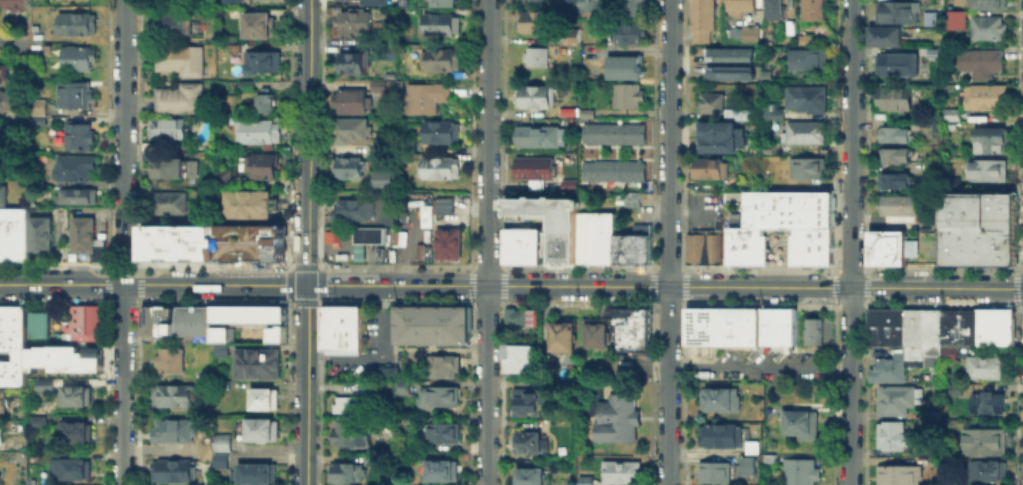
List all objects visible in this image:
building: (571, 0)
building: (169, 1)
building: (234, 1)
building: (373, 1)
building: (444, 2)
building: (532, 2)
building: (949, 3)
building: (11, 5)
building: (742, 5)
building: (993, 5)
building: (593, 7)
building: (633, 8)
building: (774, 10)
building: (814, 11)
building: (899, 12)
building: (933, 18)
building: (704, 20)
building: (957, 20)
road: (124, 21)
building: (173, 23)
building: (355, 23)
building: (536, 23)
building: (78, 25)
building: (259, 26)
building: (442, 26)
building: (791, 28)
building: (989, 29)
building: (633, 34)
building: (733, 34)
building: (752, 34)
building: (886, 39)
building: (808, 40)
road: (10, 41)
building: (391, 53)
building: (734, 54)
building: (537, 58)
building: (80, 60)
building: (182, 61)
building: (442, 61)
building: (811, 62)
building: (263, 63)
building: (355, 63)
building: (981, 63)
building: (898, 67)
building: (625, 68)
building: (2, 72)
building: (733, 73)
building: (245, 86)
building: (379, 86)
building: (72, 93)
building: (535, 97)
building: (629, 97)
building: (986, 97)
building: (6, 98)
building: (181, 99)
building: (426, 99)
building: (811, 100)
building: (895, 100)
building: (266, 101)
building: (353, 101)
building: (710, 103)
building: (37, 106)
building: (771, 113)
building: (588, 114)
building: (740, 116)
building: (952, 116)
building: (37, 118)
building: (170, 129)
building: (258, 132)
building: (351, 132)
building: (443, 133)
building: (808, 134)
building: (615, 135)
building: (894, 136)
road: (123, 137)
building: (722, 137)
building: (81, 138)
building: (540, 138)
building: (994, 142)
building: (782, 147)
building: (895, 157)
building: (0, 162)
building: (259, 166)
building: (806, 166)
building: (192, 168)
building: (169, 169)
building: (348, 169)
building: (439, 169)
building: (532, 169)
building: (985, 169)
building: (76, 170)
building: (710, 170)
building: (615, 172)
building: (225, 177)
building: (382, 180)
building: (955, 182)
building: (895, 183)
building: (566, 184)
building: (1, 193)
building: (77, 197)
building: (630, 197)
building: (248, 203)
building: (173, 204)
building: (443, 206)
building: (786, 206)
building: (900, 206)
building: (825, 209)
building: (355, 211)
building: (546, 215)
building: (759, 217)
building: (976, 221)
building: (38, 232)
building: (80, 233)
building: (366, 233)
building: (5, 234)
building: (17, 234)
building: (329, 236)
building: (594, 236)
road: (121, 240)
building: (711, 241)
road: (307, 242)
building: (446, 242)
road: (486, 242)
road: (669, 242)
road: (850, 242)
building: (175, 243)
building: (533, 244)
building: (509, 245)
building: (521, 245)
building: (632, 245)
building: (693, 245)
building: (735, 245)
building: (812, 245)
building: (755, 246)
building: (886, 247)
building: (96, 249)
building: (563, 253)
building: (955, 256)
building: (998, 256)
road: (107, 263)
road: (133, 263)
traffic signals: (307, 285)
road: (511, 285)
building: (518, 315)
building: (402, 316)
building: (416, 316)
building: (425, 316)
building: (433, 316)
building: (147, 317)
building: (443, 317)
building: (458, 317)
building: (12, 319)
building: (166, 319)
building: (184, 319)
building: (202, 319)
building: (246, 319)
building: (85, 322)
building: (38, 323)
building: (812, 323)
building: (785, 324)
building: (715, 325)
building: (752, 325)
building: (769, 325)
building: (872, 325)
building: (884, 325)
building: (896, 325)
building: (957, 326)
building: (994, 326)
building: (340, 328)
parking lot: (367, 328)
building: (630, 328)
building: (597, 333)
building: (930, 335)
building: (429, 336)
building: (812, 336)
building: (912, 336)
building: (561, 337)
building: (12, 342)
building: (220, 348)
building: (519, 350)
building: (695, 351)
building: (947, 352)
road: (375, 353)
building: (63, 358)
building: (167, 359)
building: (254, 361)
building: (441, 364)
building: (520, 364)
road: (758, 365)
building: (18, 366)
parking lot: (347, 366)
building: (568, 366)
building: (980, 366)
building: (551, 368)
building: (887, 368)
building: (382, 369)
building: (0, 371)
building: (6, 371)
building: (701, 374)
building: (936, 376)
road: (122, 384)
building: (224, 385)
building: (46, 387)
building: (950, 387)
building: (403, 388)
building: (172, 394)
building: (77, 397)
building: (894, 397)
building: (262, 398)
building: (439, 398)
building: (720, 400)
building: (1, 401)
building: (986, 401)
building: (355, 402)
building: (530, 406)
building: (935, 415)
building: (35, 419)
building: (619, 420)
building: (802, 424)
building: (258, 429)
building: (173, 432)
building: (889, 433)
building: (0, 434)
building: (76, 434)
building: (446, 435)
building: (352, 437)
building: (722, 437)
building: (986, 441)
building: (224, 443)
building: (528, 443)
building: (753, 447)
building: (203, 450)
road: (154, 451)
building: (208, 456)
building: (770, 458)
building: (223, 460)
building: (750, 466)
building: (76, 470)
building: (257, 471)
building: (443, 471)
building: (174, 472)
building: (803, 472)
building: (715, 473)
building: (991, 473)
building: (623, 474)
building: (901, 474)
building: (348, 475)
building: (531, 477)
building: (587, 482)

